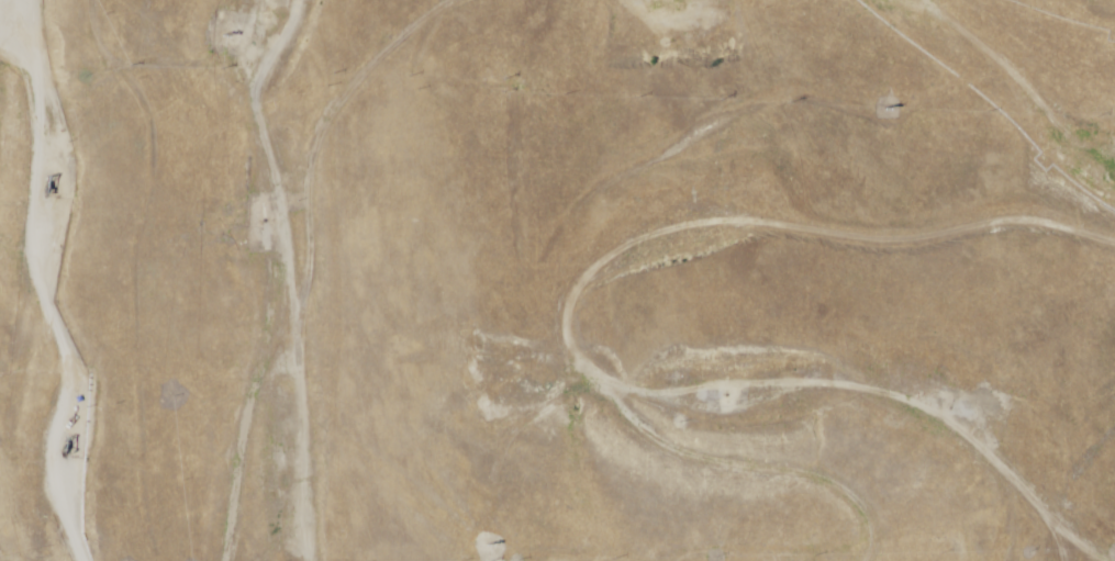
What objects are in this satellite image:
road: (1036, 74)
road: (614, 253)
road: (239, 270)
road: (38, 281)
road: (854, 414)
road: (212, 501)
road: (1015, 531)

